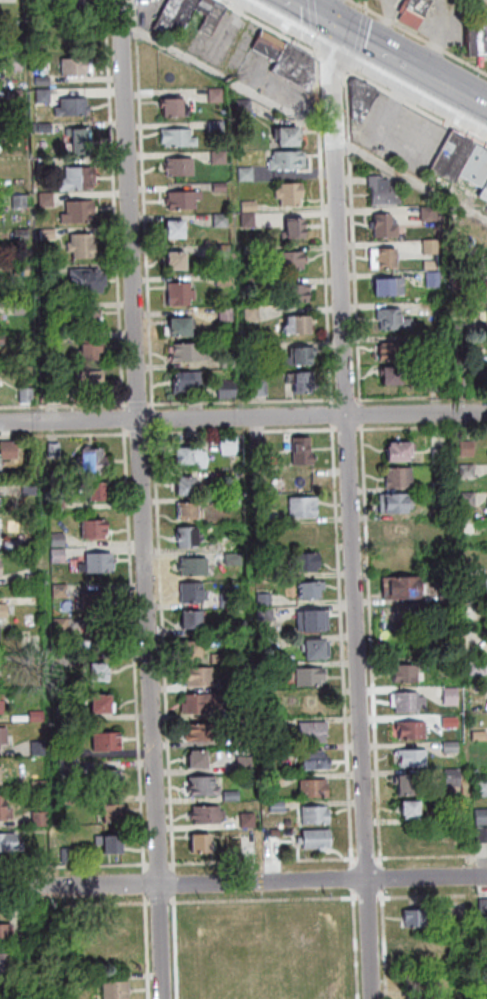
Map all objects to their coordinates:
building: (76, 4)
building: (207, 5)
road: (368, 7)
building: (415, 12)
building: (185, 13)
road: (308, 13)
road: (332, 13)
building: (169, 15)
building: (214, 19)
road: (389, 24)
road: (315, 25)
building: (14, 27)
road: (271, 27)
traffic signals: (333, 27)
road: (365, 29)
road: (419, 36)
road: (354, 38)
road: (442, 38)
building: (477, 39)
building: (270, 46)
road: (391, 58)
road: (328, 59)
building: (16, 63)
building: (296, 66)
building: (78, 67)
road: (334, 69)
road: (415, 71)
road: (228, 77)
building: (44, 81)
building: (17, 94)
building: (218, 94)
road: (456, 94)
building: (45, 96)
building: (362, 100)
building: (175, 107)
building: (76, 108)
building: (218, 126)
building: (44, 127)
building: (288, 137)
building: (180, 138)
building: (82, 140)
building: (221, 157)
building: (289, 160)
building: (464, 160)
building: (48, 165)
building: (183, 167)
building: (247, 174)
building: (80, 179)
road: (413, 179)
building: (221, 187)
building: (385, 191)
building: (291, 194)
building: (485, 194)
building: (48, 199)
building: (185, 200)
building: (22, 201)
road: (146, 204)
building: (250, 206)
building: (81, 212)
building: (429, 215)
building: (249, 220)
building: (222, 221)
building: (386, 227)
building: (295, 228)
road: (326, 228)
building: (176, 230)
building: (23, 234)
building: (51, 234)
building: (84, 246)
building: (432, 247)
building: (225, 252)
building: (388, 259)
building: (293, 260)
building: (179, 261)
building: (23, 269)
building: (435, 279)
building: (225, 280)
building: (459, 280)
building: (88, 281)
building: (391, 287)
building: (486, 289)
building: (297, 293)
building: (182, 294)
building: (53, 306)
building: (23, 307)
building: (254, 313)
building: (228, 315)
building: (87, 319)
building: (394, 320)
building: (298, 325)
building: (181, 328)
building: (463, 328)
building: (54, 337)
building: (4, 339)
building: (255, 346)
building: (89, 350)
building: (393, 351)
building: (190, 353)
building: (301, 357)
building: (229, 363)
building: (394, 377)
building: (90, 381)
building: (188, 382)
building: (304, 384)
building: (438, 384)
building: (262, 388)
building: (229, 389)
building: (28, 395)
road: (344, 400)
road: (244, 401)
road: (145, 404)
road: (335, 410)
road: (155, 414)
road: (243, 417)
building: (259, 445)
building: (231, 446)
building: (469, 449)
building: (10, 450)
building: (56, 450)
building: (304, 451)
building: (401, 453)
building: (441, 456)
building: (193, 457)
building: (96, 460)
building: (469, 471)
building: (235, 475)
building: (401, 479)
building: (185, 487)
building: (443, 487)
building: (32, 488)
building: (100, 492)
road: (144, 499)
building: (470, 500)
building: (234, 502)
building: (1, 504)
building: (397, 504)
building: (305, 508)
building: (190, 512)
building: (273, 518)
building: (1, 527)
building: (97, 530)
building: (397, 530)
building: (303, 533)
building: (189, 538)
building: (60, 540)
building: (230, 544)
building: (14, 545)
road: (355, 555)
building: (60, 556)
building: (235, 559)
building: (308, 563)
building: (100, 564)
building: (194, 568)
building: (1, 569)
building: (34, 579)
building: (480, 586)
building: (404, 589)
building: (62, 591)
building: (313, 591)
building: (194, 594)
building: (229, 600)
building: (266, 600)
building: (99, 602)
building: (5, 612)
building: (267, 614)
building: (192, 621)
building: (314, 623)
building: (63, 626)
building: (242, 628)
building: (407, 629)
building: (101, 636)
building: (269, 643)
building: (192, 651)
building: (318, 651)
building: (220, 659)
building: (479, 667)
building: (2, 673)
building: (100, 674)
building: (409, 675)
building: (200, 677)
building: (313, 677)
building: (243, 680)
building: (452, 696)
building: (316, 702)
building: (410, 703)
building: (201, 704)
building: (3, 705)
building: (104, 706)
building: (245, 709)
building: (38, 716)
building: (451, 723)
building: (273, 725)
building: (412, 731)
building: (314, 733)
building: (206, 734)
building: (4, 737)
building: (480, 737)
building: (108, 743)
building: (452, 747)
building: (40, 749)
building: (68, 752)
building: (412, 759)
building: (199, 761)
building: (316, 761)
building: (246, 764)
building: (70, 768)
building: (1, 778)
building: (454, 778)
building: (115, 780)
building: (277, 780)
building: (42, 787)
building: (410, 787)
building: (204, 788)
building: (315, 789)
building: (481, 789)
building: (233, 797)
building: (68, 802)
building: (278, 807)
building: (5, 810)
building: (411, 812)
building: (113, 816)
building: (208, 816)
building: (316, 817)
building: (482, 817)
building: (42, 819)
building: (249, 821)
building: (482, 835)
building: (316, 840)
building: (11, 844)
building: (202, 845)
building: (113, 846)
building: (278, 846)
building: (69, 856)
road: (243, 883)
building: (484, 908)
building: (416, 921)
building: (115, 922)
building: (486, 928)
building: (6, 934)
building: (417, 954)
building: (484, 955)
building: (8, 964)
building: (77, 984)
building: (422, 984)
building: (118, 990)

